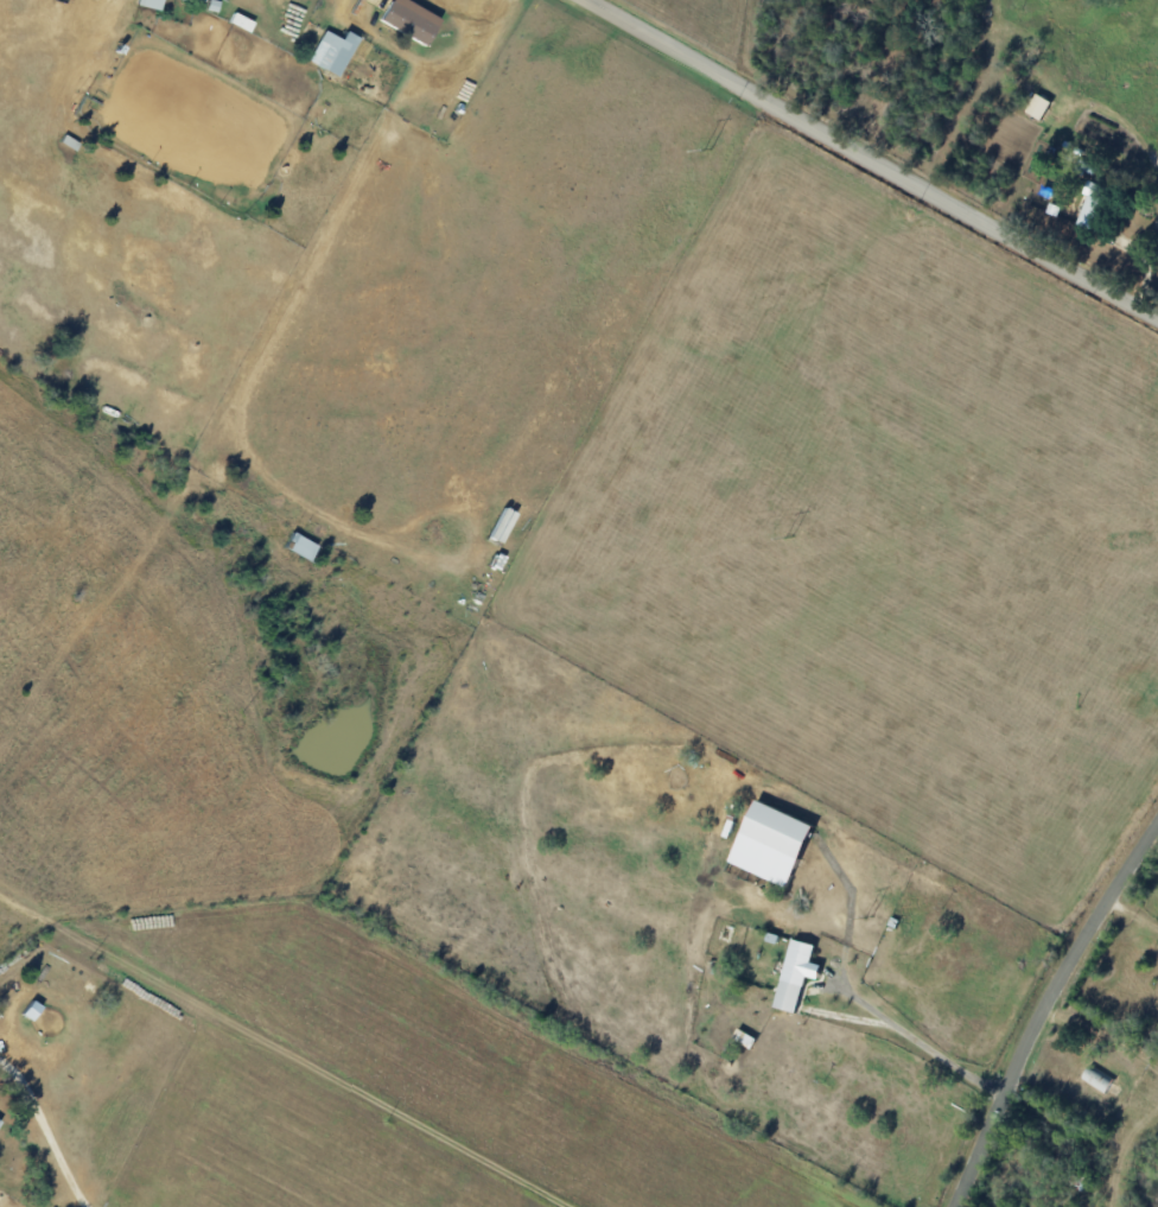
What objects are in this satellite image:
building: (197, 0)
building: (148, 2)
building: (407, 19)
building: (238, 20)
building: (331, 50)
building: (1037, 106)
power tower: (708, 151)
road: (870, 161)
building: (1089, 203)
power tower: (790, 539)
building: (298, 546)
building: (768, 844)
power tower: (871, 917)
building: (794, 974)
road: (1039, 1006)
road: (923, 1035)
road: (764, 1088)
road: (47, 1130)
road: (1067, 1156)

